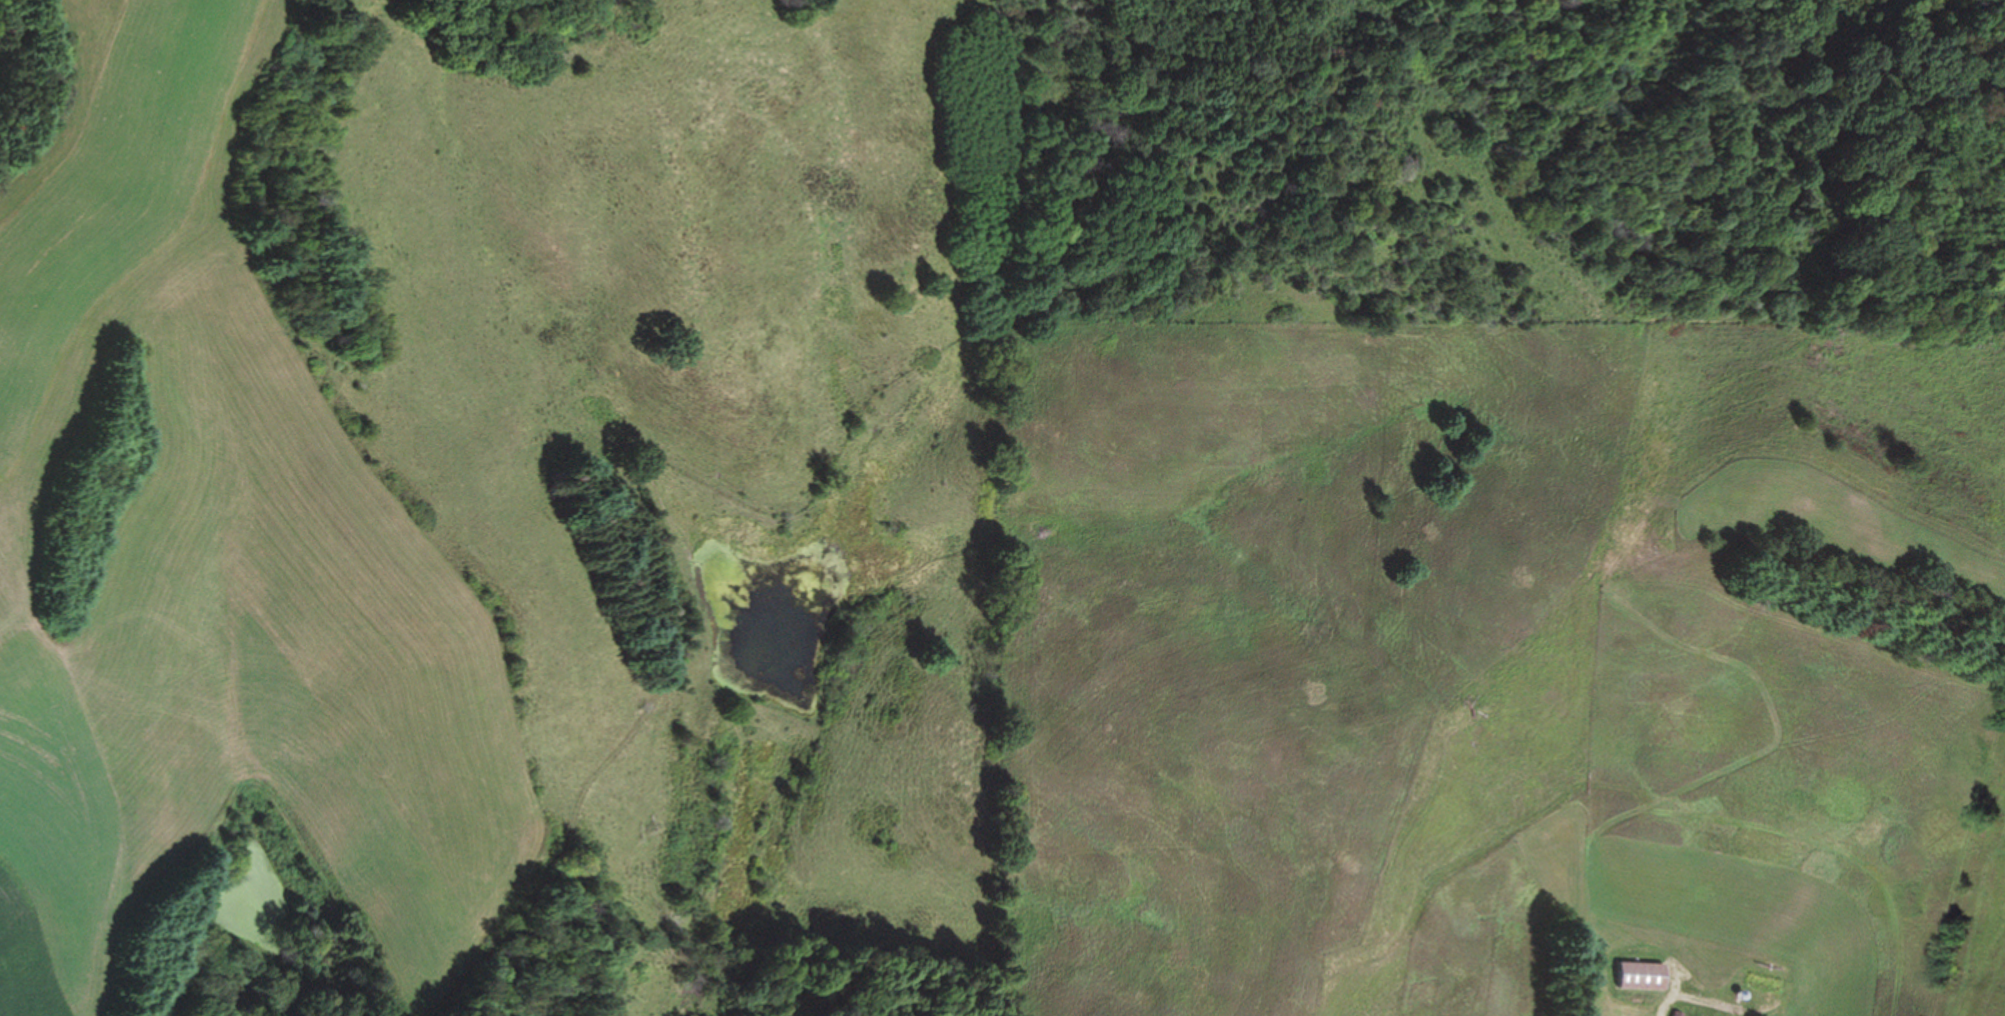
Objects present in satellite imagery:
building: (1645, 978)

